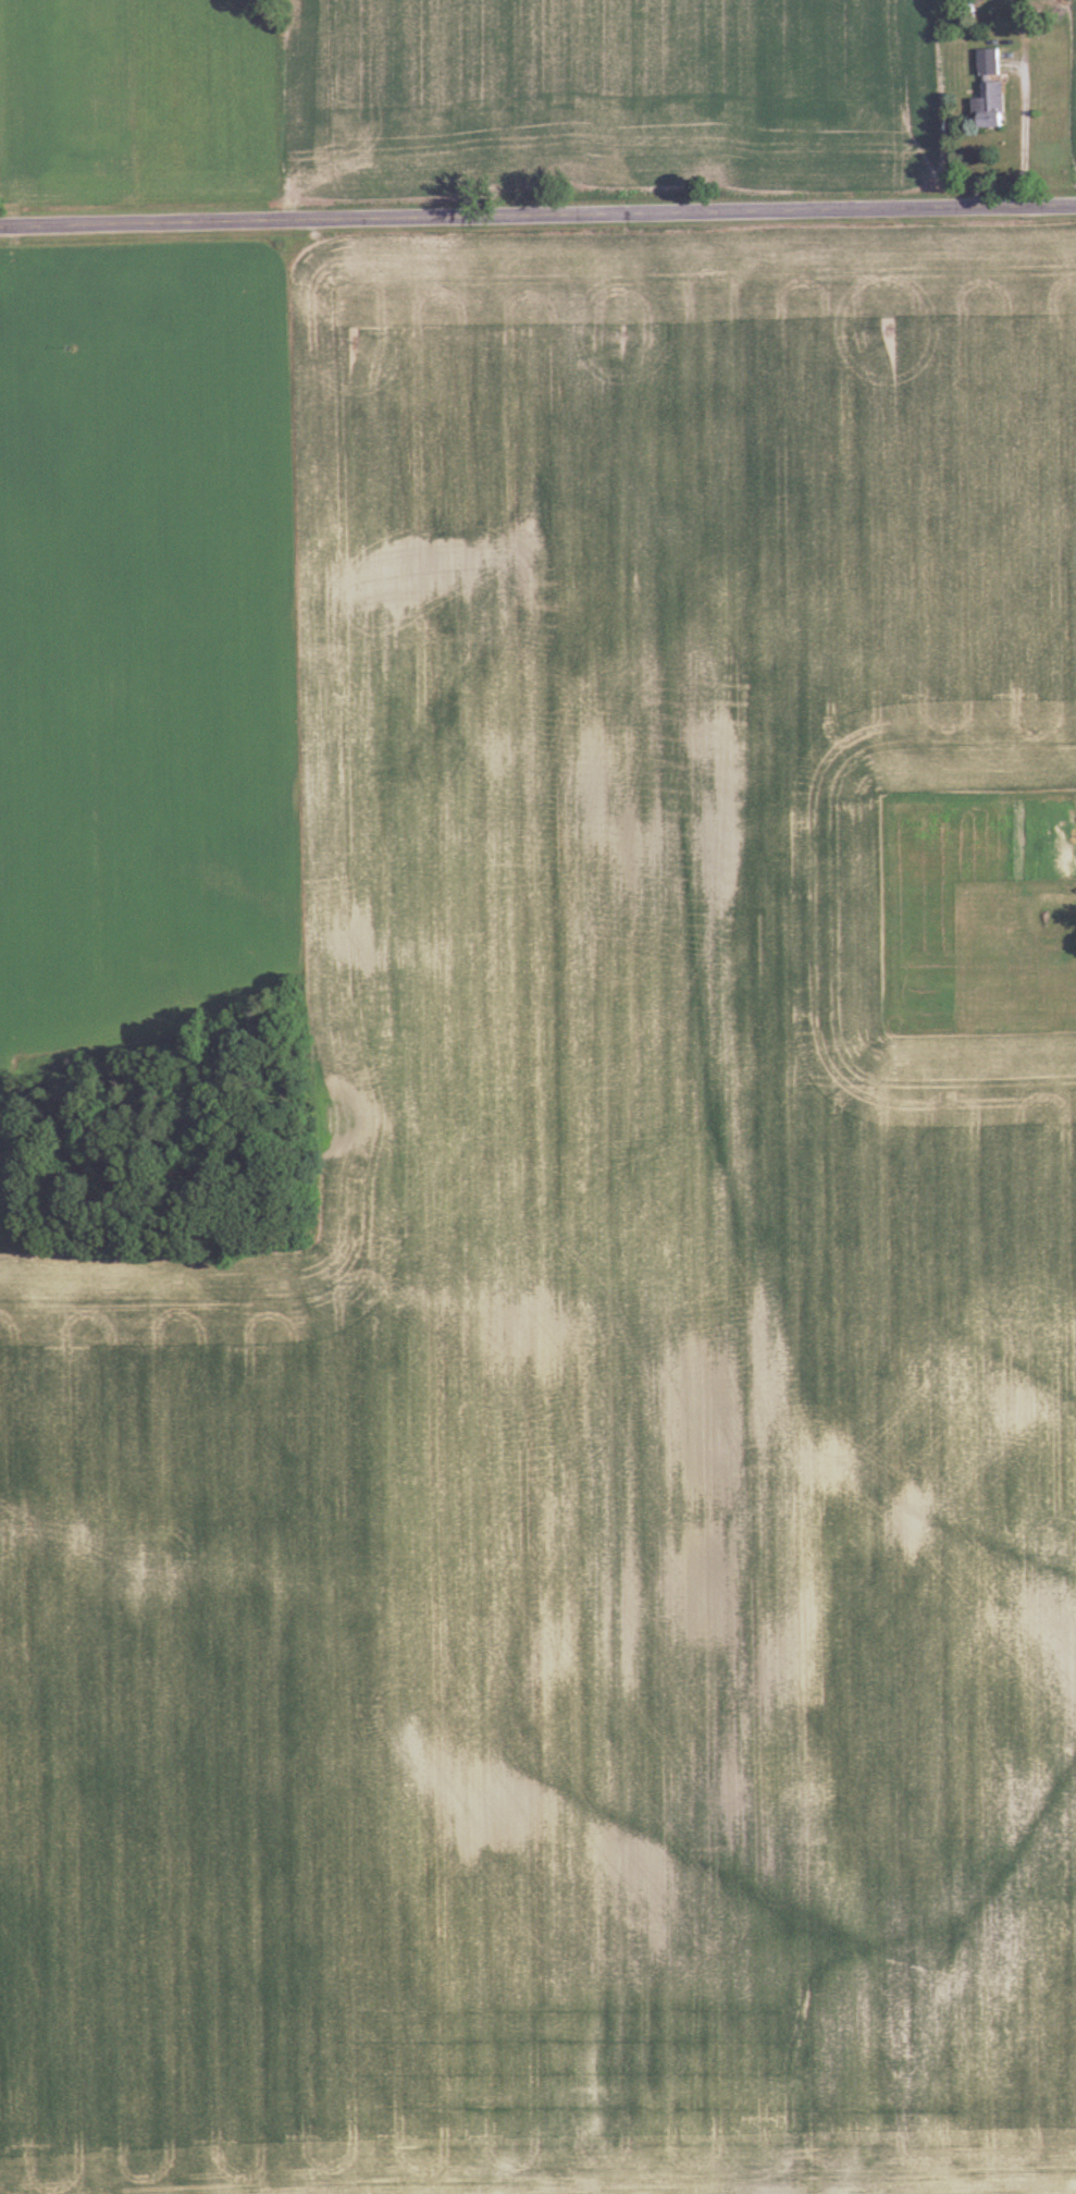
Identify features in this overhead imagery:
building: (990, 63)
building: (992, 107)
road: (1018, 131)
road: (537, 212)
building: (914, 824)
building: (1005, 907)
building: (1035, 992)

